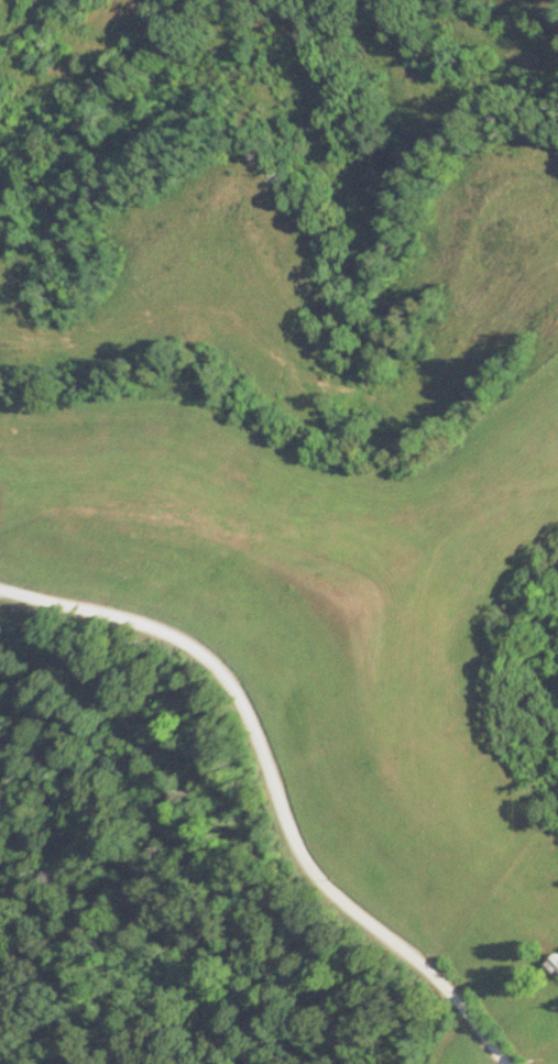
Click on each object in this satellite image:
road: (276, 785)
building: (555, 964)

